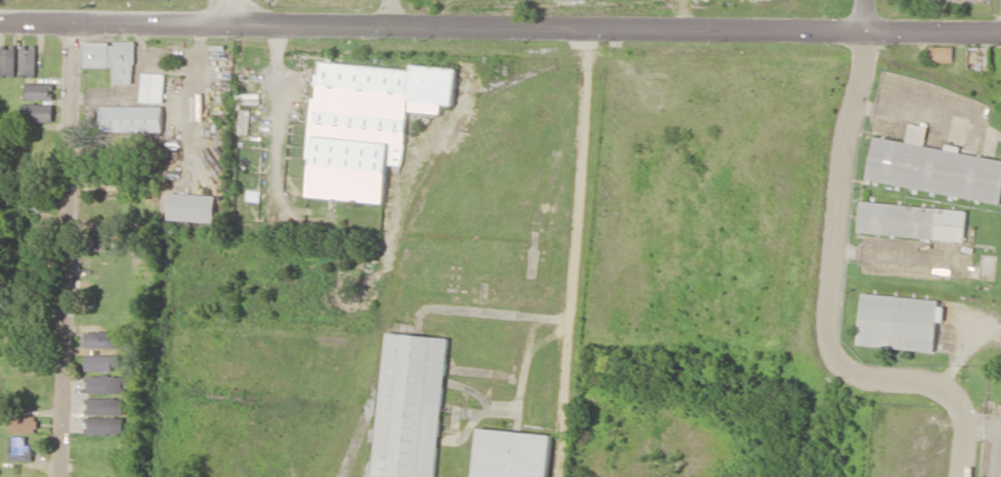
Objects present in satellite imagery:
road: (395, 12)
road: (500, 25)
building: (942, 54)
building: (113, 58)
building: (29, 59)
building: (8, 60)
building: (153, 87)
building: (40, 90)
building: (37, 112)
building: (133, 117)
road: (274, 121)
building: (367, 123)
building: (933, 167)
building: (253, 195)
building: (192, 206)
building: (913, 220)
building: (101, 237)
road: (66, 251)
road: (826, 284)
building: (898, 321)
building: (102, 338)
building: (102, 361)
building: (104, 383)
building: (105, 405)
building: (409, 406)
building: (23, 423)
building: (106, 424)
building: (20, 448)
building: (512, 453)

